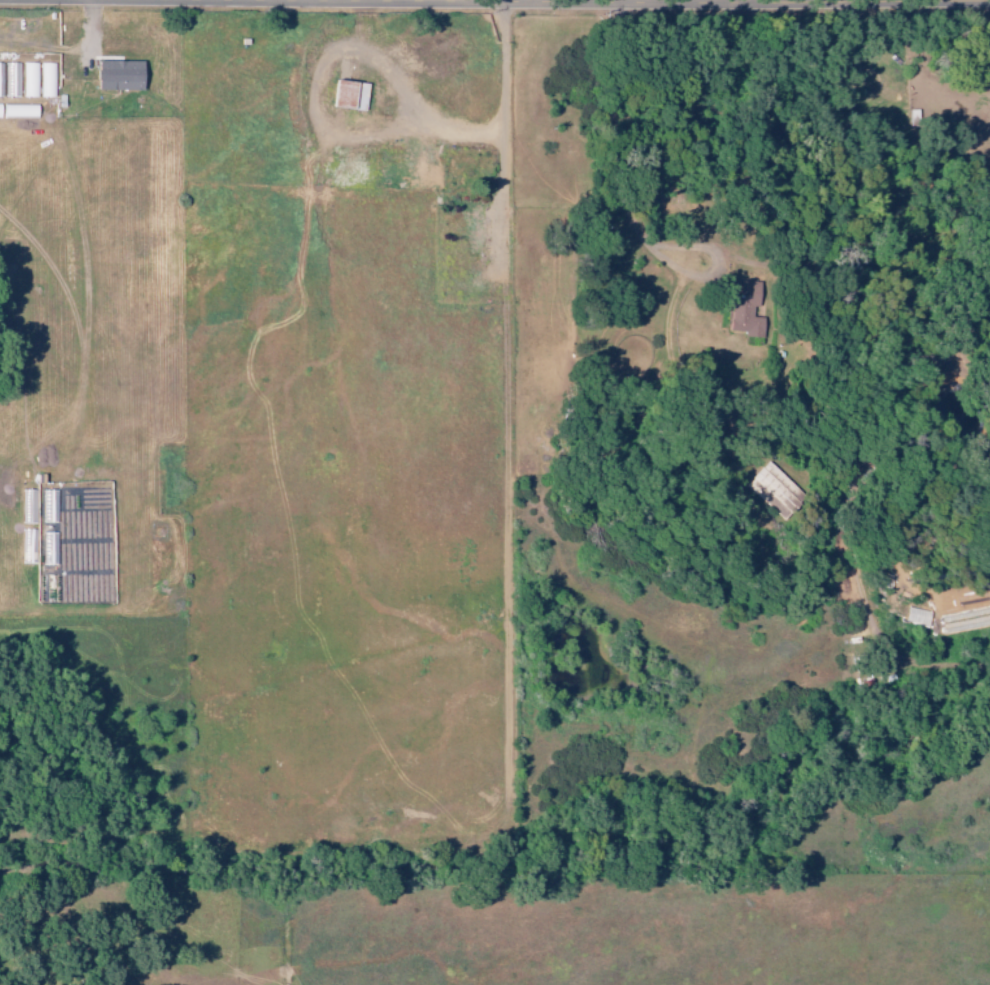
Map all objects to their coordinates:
road: (509, 2)
building: (116, 75)
building: (346, 95)
road: (508, 116)
building: (422, 166)
building: (475, 225)
building: (743, 315)
building: (775, 489)

